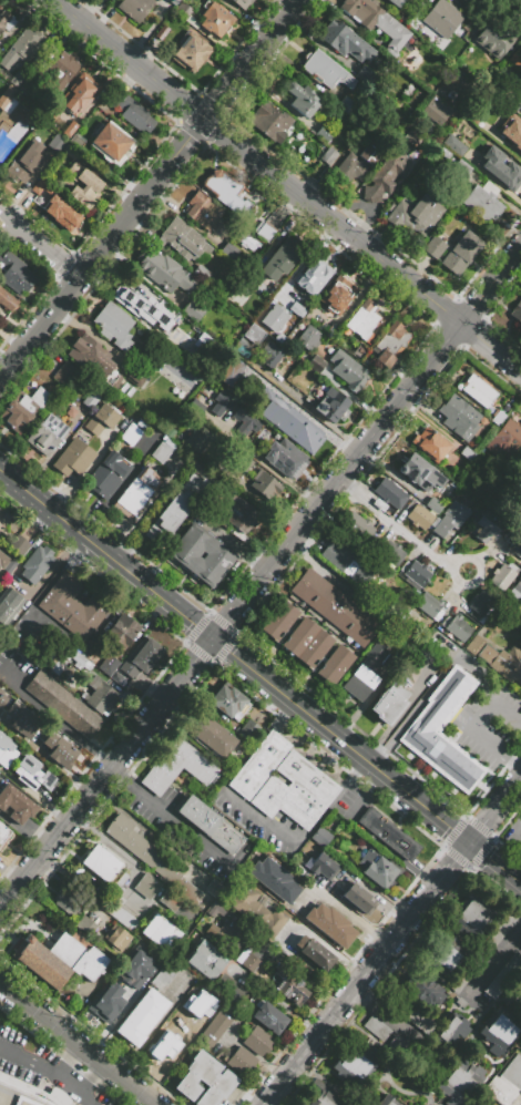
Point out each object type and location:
building: (172, 2)
building: (396, 2)
building: (241, 3)
building: (517, 4)
building: (134, 8)
building: (184, 12)
building: (442, 18)
building: (214, 19)
building: (6, 21)
building: (377, 22)
building: (161, 32)
building: (491, 39)
building: (344, 41)
building: (25, 42)
building: (188, 52)
building: (62, 70)
building: (325, 71)
building: (366, 75)
building: (18, 81)
building: (460, 83)
building: (27, 86)
building: (80, 91)
building: (8, 92)
building: (505, 98)
building: (302, 100)
building: (345, 104)
building: (12, 106)
building: (496, 111)
building: (437, 112)
building: (132, 113)
building: (269, 121)
building: (513, 129)
building: (64, 130)
building: (427, 131)
building: (325, 133)
building: (413, 139)
building: (8, 142)
building: (55, 142)
building: (78, 143)
building: (112, 143)
building: (453, 144)
building: (328, 155)
building: (441, 156)
building: (25, 158)
road: (260, 160)
building: (357, 162)
building: (500, 168)
building: (461, 172)
building: (387, 174)
building: (55, 176)
building: (83, 185)
road: (150, 188)
building: (41, 191)
building: (227, 192)
building: (483, 201)
building: (202, 211)
building: (60, 212)
building: (412, 214)
building: (266, 226)
building: (247, 239)
building: (183, 241)
road: (40, 244)
building: (433, 247)
building: (228, 249)
building: (461, 253)
building: (282, 258)
building: (163, 272)
building: (200, 273)
building: (16, 274)
building: (313, 276)
building: (253, 280)
road: (492, 284)
building: (338, 294)
building: (7, 300)
building: (143, 307)
building: (299, 308)
building: (193, 310)
building: (517, 311)
building: (274, 318)
building: (362, 319)
building: (114, 325)
building: (331, 330)
building: (253, 334)
building: (195, 337)
building: (309, 339)
road: (492, 344)
building: (389, 345)
building: (358, 351)
building: (269, 356)
building: (92, 359)
building: (146, 359)
building: (317, 367)
building: (176, 370)
building: (348, 370)
building: (64, 374)
building: (136, 377)
building: (226, 379)
building: (260, 387)
building: (145, 388)
building: (476, 390)
building: (90, 399)
building: (331, 405)
building: (222, 407)
building: (23, 408)
road: (308, 408)
building: (172, 412)
building: (458, 417)
building: (498, 417)
building: (101, 419)
building: (275, 419)
building: (262, 432)
building: (47, 434)
building: (130, 434)
building: (305, 436)
building: (198, 439)
building: (505, 440)
building: (430, 443)
road: (365, 446)
building: (161, 453)
building: (467, 454)
building: (73, 458)
building: (286, 458)
building: (520, 460)
building: (247, 465)
building: (421, 472)
building: (108, 474)
road: (287, 481)
building: (264, 484)
building: (135, 492)
building: (388, 495)
building: (433, 505)
building: (175, 509)
building: (242, 515)
building: (419, 516)
road: (34, 519)
building: (450, 519)
building: (356, 524)
building: (488, 526)
road: (399, 530)
road: (40, 535)
building: (514, 544)
building: (19, 545)
road: (106, 553)
building: (388, 553)
building: (201, 555)
building: (349, 560)
building: (2, 561)
building: (37, 564)
building: (416, 573)
building: (502, 576)
building: (519, 579)
building: (515, 591)
building: (7, 603)
road: (238, 603)
building: (480, 603)
building: (430, 605)
building: (73, 606)
building: (334, 607)
building: (278, 621)
building: (457, 626)
building: (121, 628)
traffic signals: (213, 637)
building: (306, 643)
building: (52, 651)
building: (141, 656)
building: (499, 659)
building: (79, 662)
building: (334, 664)
building: (108, 665)
building: (364, 674)
building: (115, 677)
road: (431, 685)
road: (149, 689)
road: (121, 692)
building: (99, 695)
building: (2, 697)
building: (228, 703)
building: (388, 703)
building: (62, 704)
road: (504, 710)
building: (432, 715)
road: (315, 717)
building: (21, 719)
road: (55, 720)
building: (248, 729)
building: (211, 735)
road: (481, 735)
building: (59, 751)
building: (6, 753)
road: (119, 756)
road: (44, 758)
building: (258, 764)
building: (177, 767)
building: (32, 774)
building: (295, 791)
road: (33, 796)
building: (16, 804)
road: (494, 806)
road: (171, 819)
road: (442, 819)
building: (210, 825)
road: (21, 832)
building: (3, 833)
building: (388, 833)
road: (305, 836)
building: (320, 837)
traffic signals: (468, 839)
building: (151, 857)
road: (494, 860)
building: (285, 862)
building: (100, 863)
building: (323, 866)
building: (378, 869)
road: (8, 878)
building: (273, 879)
building: (120, 882)
building: (146, 886)
building: (213, 888)
road: (126, 889)
road: (12, 892)
building: (357, 898)
building: (167, 901)
building: (67, 902)
road: (344, 911)
building: (217, 912)
building: (256, 912)
building: (124, 918)
building: (473, 918)
building: (330, 924)
building: (85, 925)
building: (498, 929)
building: (160, 932)
building: (225, 934)
building: (119, 939)
road: (324, 945)
building: (314, 953)
building: (440, 953)
road: (496, 955)
building: (60, 959)
building: (205, 960)
building: (251, 964)
road: (365, 971)
building: (124, 972)
building: (165, 973)
building: (520, 973)
building: (503, 974)
building: (462, 981)
building: (422, 988)
building: (232, 990)
building: (290, 990)
building: (202, 991)
road: (276, 1002)
road: (367, 1002)
building: (105, 1004)
building: (461, 1005)
building: (142, 1017)
building: (269, 1017)
building: (417, 1019)
road: (379, 1020)
building: (216, 1025)
building: (376, 1029)
building: (449, 1029)
building: (500, 1029)
road: (151, 1030)
building: (174, 1034)
building: (257, 1041)
road: (76, 1043)
building: (399, 1047)
building: (241, 1061)
road: (43, 1063)
building: (353, 1064)
building: (458, 1081)
building: (505, 1082)
building: (206, 1083)
road: (74, 1086)
building: (22, 1094)
building: (321, 1095)
building: (386, 1101)
building: (368, 1104)

